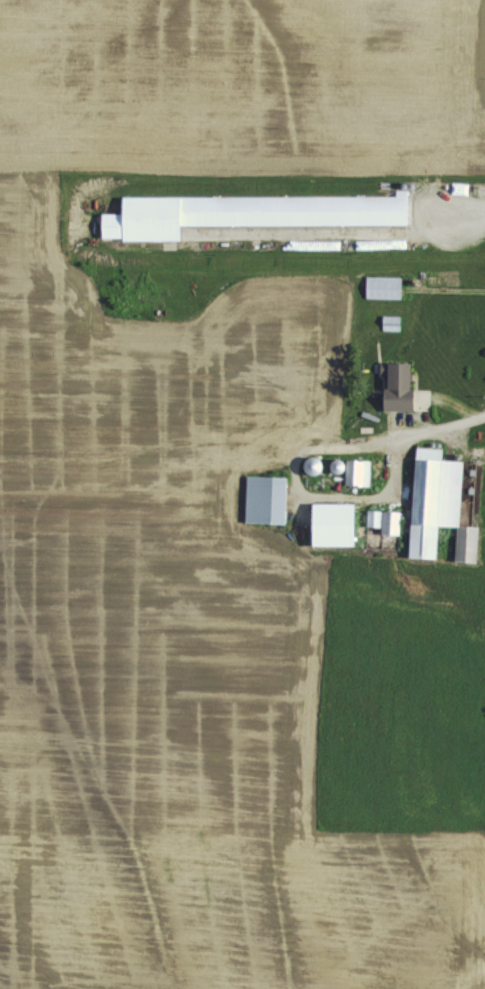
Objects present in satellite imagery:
building: (248, 212)
building: (384, 286)
building: (391, 322)
building: (402, 385)
road: (440, 425)
building: (358, 470)
building: (266, 497)
building: (434, 497)
building: (385, 518)
building: (335, 521)
building: (468, 541)

